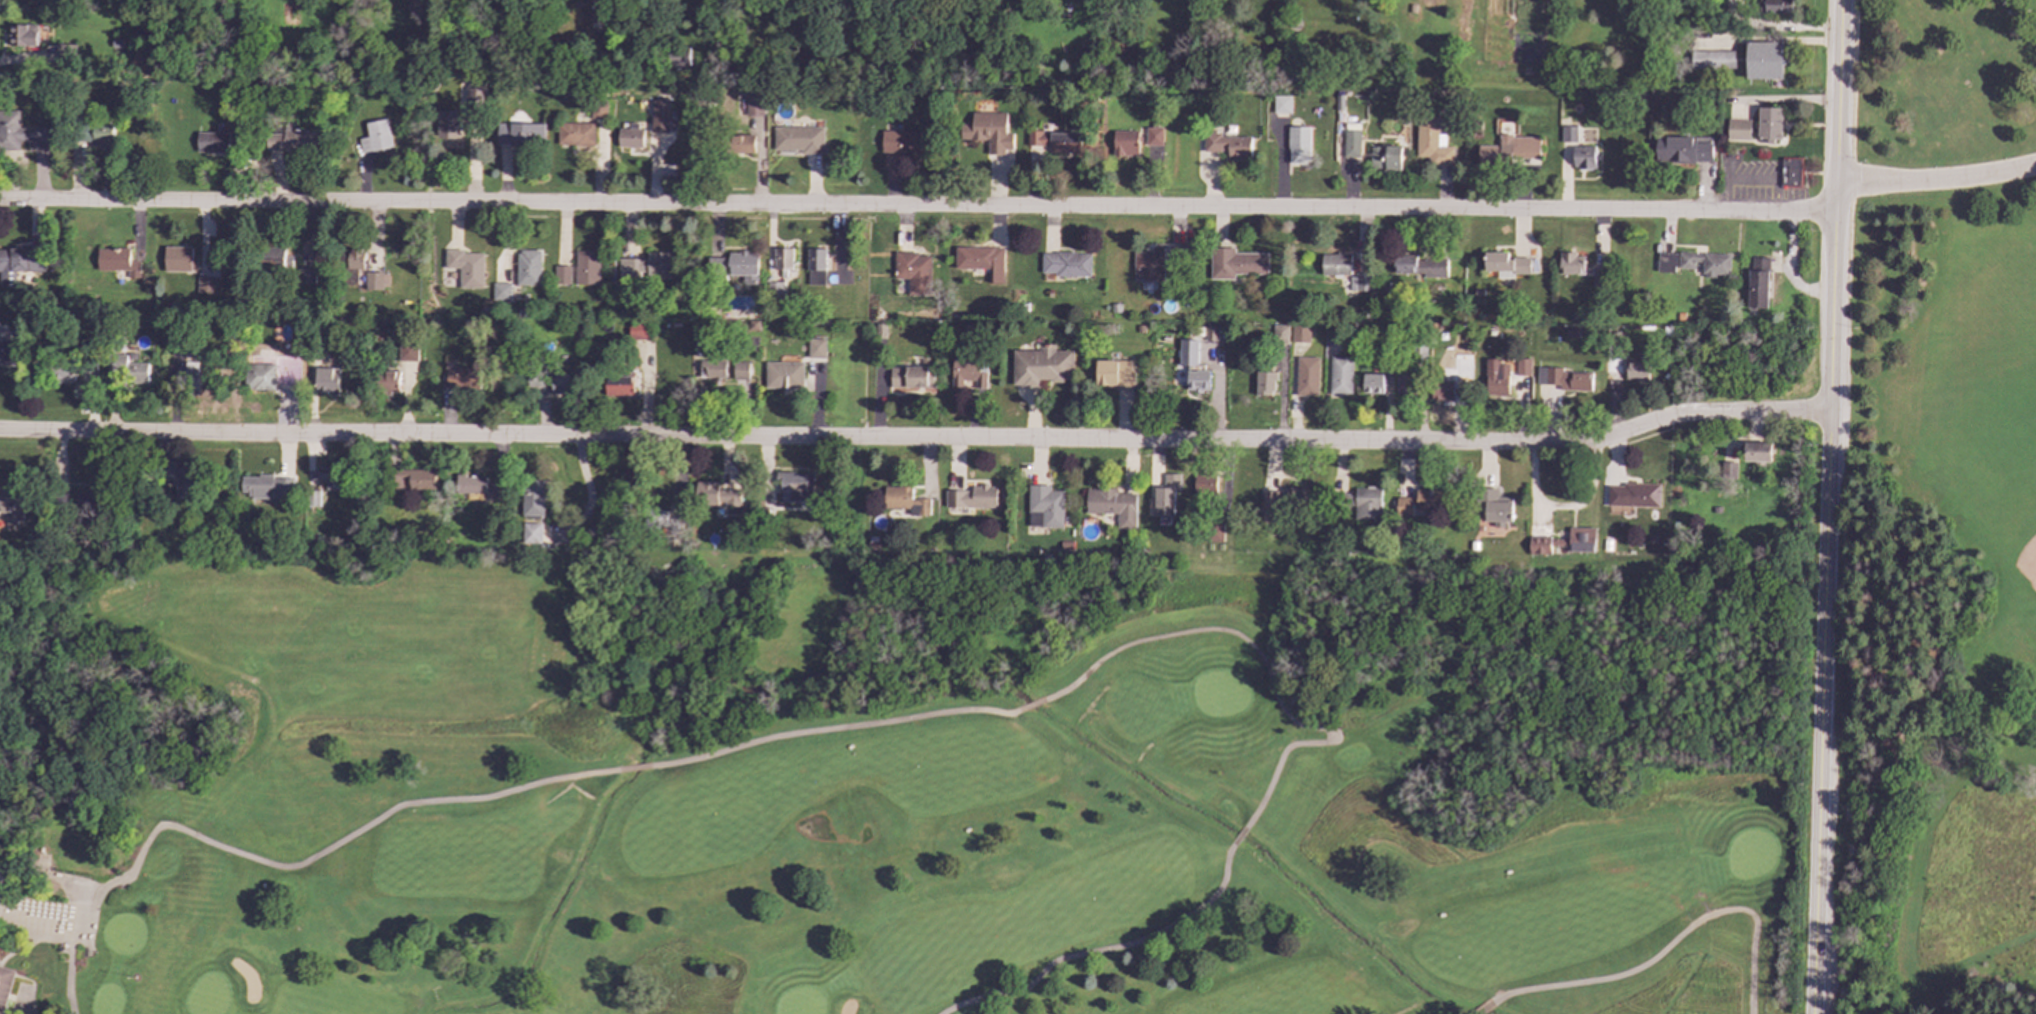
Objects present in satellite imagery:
building: (598, 0)
building: (1776, 6)
building: (22, 36)
building: (682, 59)
building: (1712, 59)
building: (1763, 60)
building: (473, 99)
building: (754, 104)
building: (1281, 104)
building: (598, 110)
building: (660, 116)
building: (1769, 124)
building: (448, 125)
building: (1738, 130)
building: (99, 131)
building: (988, 131)
building: (20, 133)
building: (519, 133)
building: (575, 134)
building: (1568, 134)
building: (630, 136)
building: (1154, 136)
building: (375, 137)
building: (799, 139)
building: (1055, 141)
building: (212, 142)
building: (294, 142)
building: (906, 142)
building: (1432, 142)
building: (1125, 143)
building: (743, 144)
building: (1227, 144)
building: (1352, 144)
building: (1299, 145)
building: (1511, 150)
building: (1688, 150)
building: (1583, 157)
building: (1386, 158)
building: (1800, 172)
road: (1938, 179)
road: (919, 206)
building: (179, 259)
building: (783, 259)
building: (981, 261)
building: (117, 262)
building: (1666, 262)
building: (1236, 263)
building: (1571, 263)
building: (1705, 263)
building: (18, 264)
building: (291, 264)
building: (1066, 264)
building: (1335, 264)
building: (816, 265)
building: (1148, 265)
building: (1506, 265)
building: (647, 266)
building: (736, 266)
building: (1418, 266)
building: (466, 267)
building: (528, 267)
building: (587, 267)
building: (913, 271)
building: (562, 275)
building: (1597, 277)
building: (376, 281)
building: (1362, 282)
building: (1757, 284)
building: (639, 331)
building: (1211, 333)
building: (1280, 333)
building: (1300, 334)
building: (879, 336)
building: (817, 348)
building: (9, 352)
building: (407, 352)
building: (291, 363)
building: (1041, 365)
building: (1190, 367)
building: (1523, 367)
building: (127, 369)
building: (713, 370)
building: (741, 370)
building: (64, 371)
building: (1636, 371)
building: (88, 372)
building: (1114, 373)
building: (187, 374)
building: (968, 374)
building: (784, 375)
building: (1341, 375)
building: (261, 376)
building: (1307, 376)
building: (912, 377)
building: (1496, 377)
building: (462, 378)
building: (1564, 379)
building: (327, 380)
building: (389, 381)
building: (536, 381)
building: (1265, 383)
building: (563, 384)
building: (1373, 384)
building: (1408, 384)
building: (618, 386)
building: (1450, 387)
road: (919, 439)
building: (1757, 452)
building: (1729, 470)
building: (330, 478)
building: (183, 479)
building: (414, 479)
building: (1204, 485)
building: (477, 486)
building: (267, 487)
building: (796, 487)
road: (589, 494)
building: (716, 495)
building: (1166, 495)
building: (1633, 495)
building: (972, 497)
building: (532, 498)
building: (313, 499)
building: (905, 501)
building: (91, 503)
building: (1422, 503)
building: (12, 504)
building: (1366, 504)
building: (1046, 505)
building: (1112, 505)
building: (1495, 506)
road: (1831, 507)
park: (1997, 508)
park: (1941, 519)
building: (531, 533)
building: (1215, 533)
building: (1582, 539)
building: (1539, 546)
road: (1263, 659)
road: (1029, 705)
road: (832, 726)
road: (633, 768)
park: (921, 785)
road: (1236, 837)
road: (339, 842)
road: (89, 905)
road: (1668, 945)
road: (1101, 949)
road: (67, 970)
building: (4, 986)
road: (1479, 1009)

